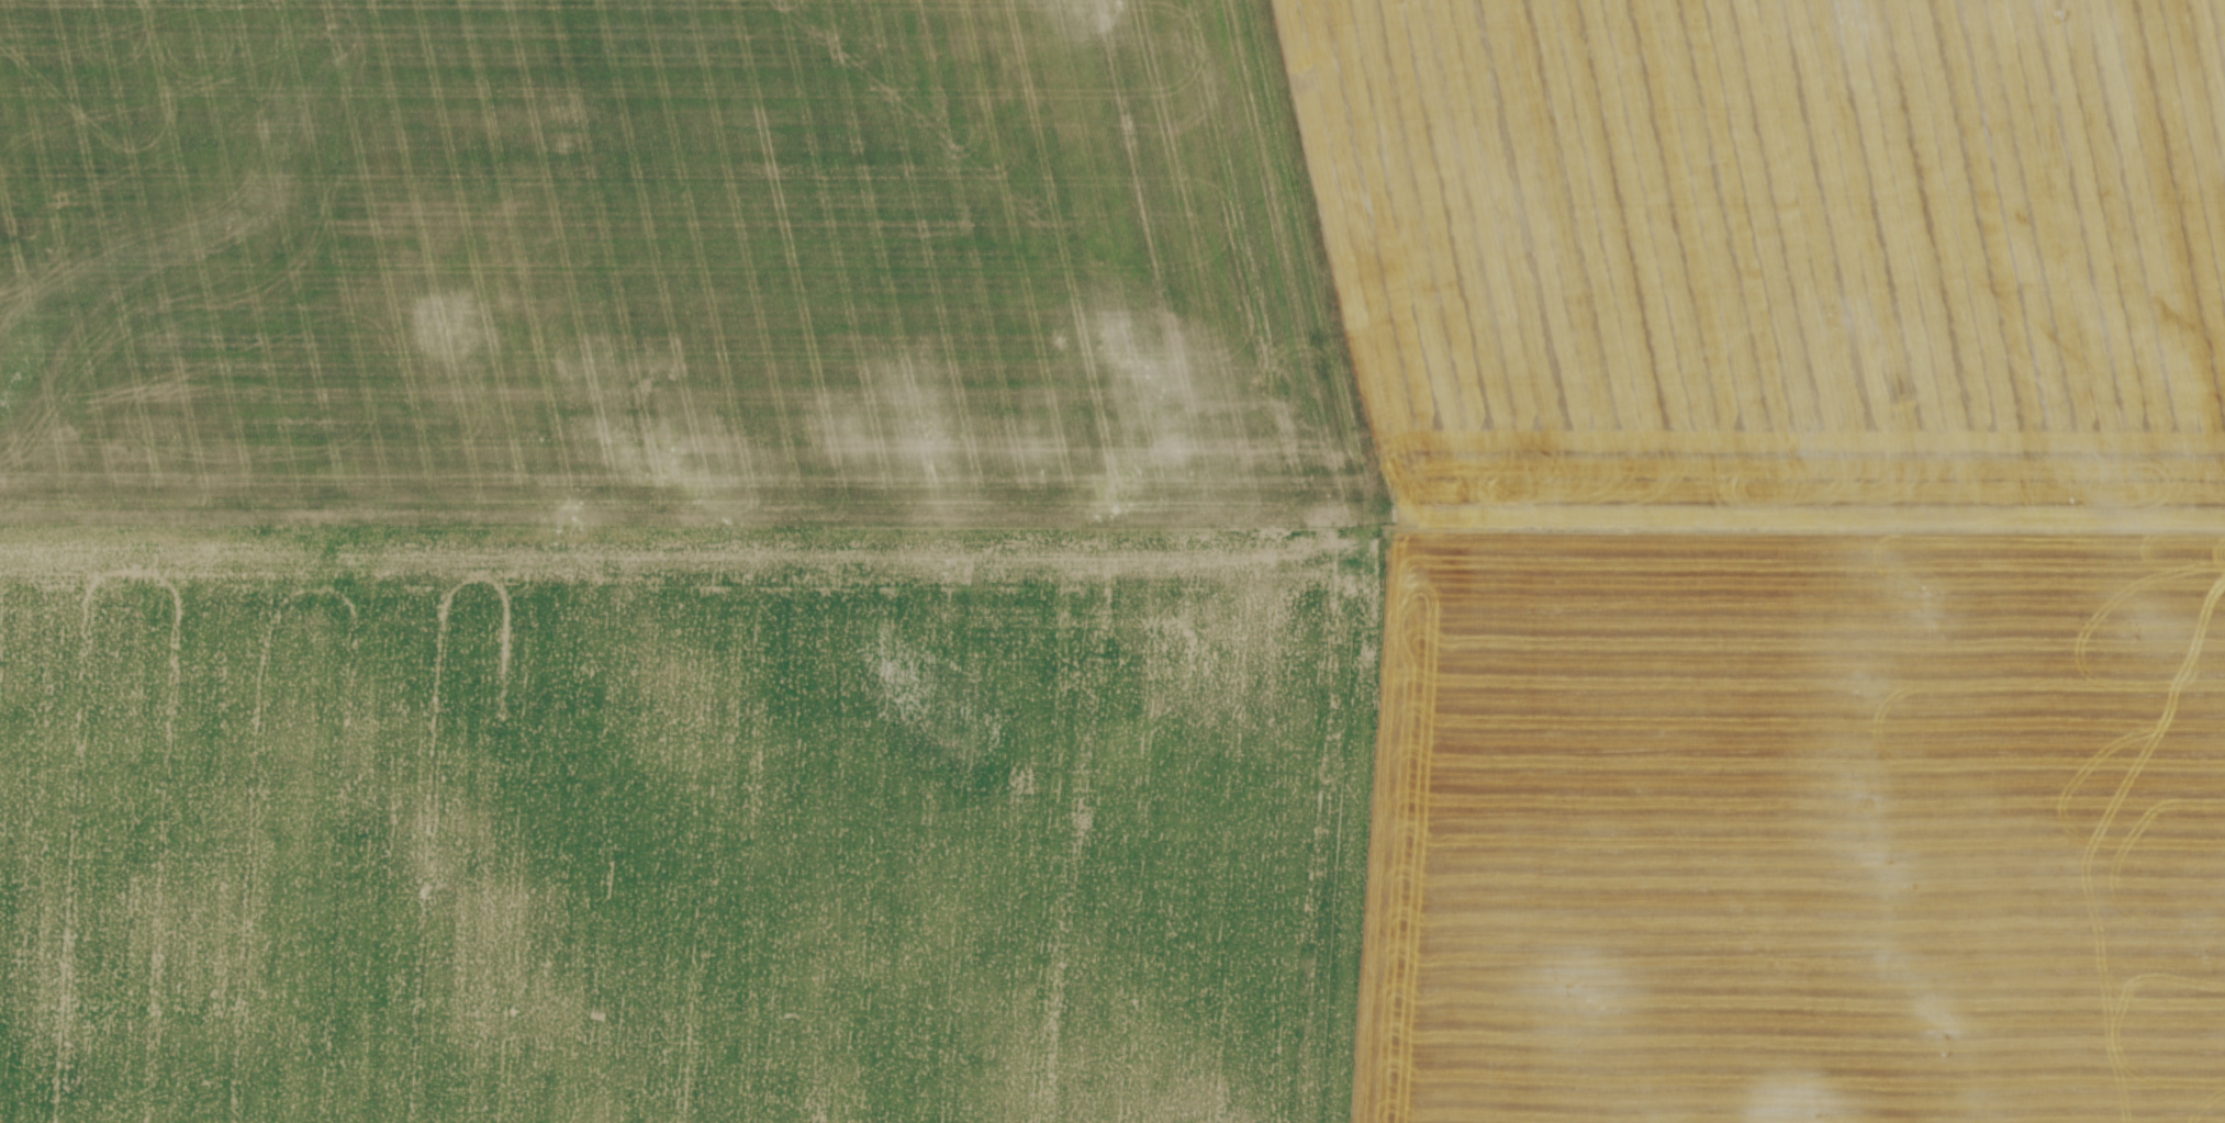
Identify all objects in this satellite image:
crop: (1112, 561)

